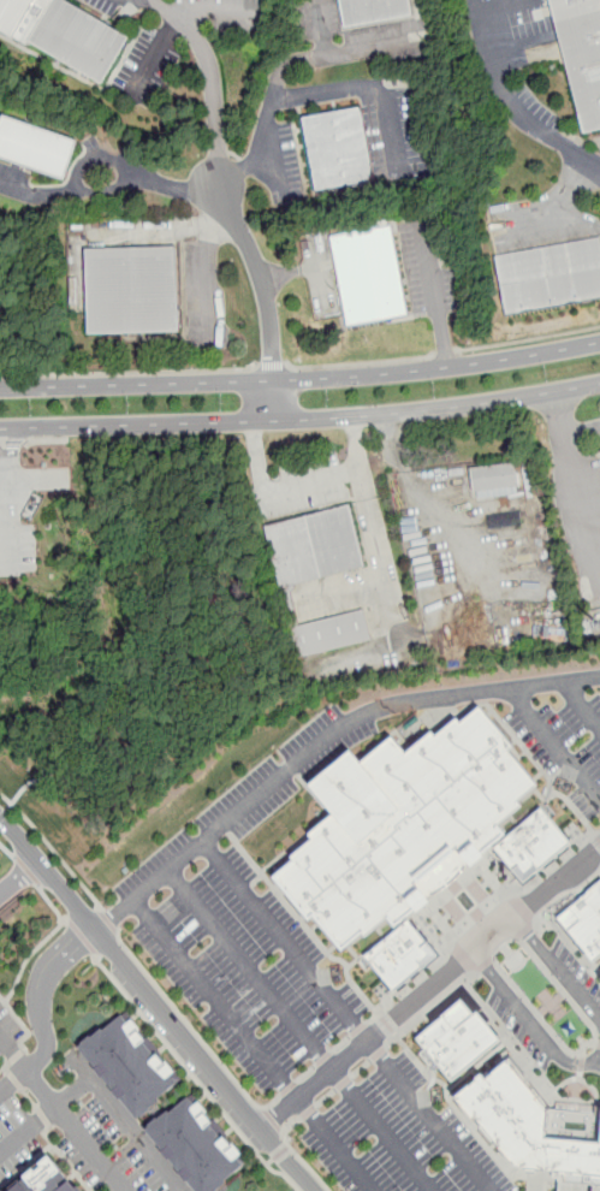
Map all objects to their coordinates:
road: (149, 1)
building: (374, 10)
road: (178, 19)
road: (317, 25)
building: (69, 34)
road: (363, 45)
building: (582, 53)
road: (213, 79)
road: (369, 85)
road: (269, 108)
road: (527, 120)
building: (40, 147)
building: (344, 149)
road: (244, 170)
road: (174, 184)
road: (564, 212)
road: (150, 232)
road: (204, 261)
building: (375, 275)
building: (549, 277)
building: (132, 291)
road: (433, 291)
road: (266, 302)
road: (527, 339)
road: (445, 352)
road: (361, 363)
road: (272, 366)
road: (130, 371)
road: (301, 378)
road: (301, 419)
road: (581, 428)
road: (43, 439)
road: (4, 442)
road: (16, 442)
road: (13, 444)
road: (362, 444)
road: (2, 460)
road: (2, 478)
building: (494, 480)
road: (278, 492)
road: (575, 494)
road: (427, 506)
road: (8, 511)
building: (314, 547)
road: (390, 565)
building: (332, 633)
road: (582, 703)
parking lot: (563, 743)
road: (556, 745)
road: (321, 746)
parking lot: (268, 783)
building: (404, 824)
building: (533, 845)
road: (7, 848)
road: (53, 848)
road: (26, 870)
road: (17, 872)
road: (557, 881)
fountain: (470, 902)
road: (529, 914)
road: (107, 920)
building: (584, 922)
road: (524, 928)
road: (495, 935)
road: (81, 937)
road: (515, 937)
road: (44, 940)
road: (570, 941)
building: (400, 954)
road: (494, 956)
road: (483, 964)
road: (470, 965)
road: (557, 968)
park: (543, 995)
road: (155, 1005)
road: (42, 1013)
road: (349, 1014)
road: (530, 1019)
road: (23, 1025)
road: (192, 1029)
road: (301, 1030)
parking lot: (307, 1036)
building: (458, 1038)
road: (367, 1039)
road: (256, 1043)
road: (594, 1043)
road: (599, 1044)
road: (521, 1049)
road: (583, 1051)
road: (575, 1053)
road: (14, 1054)
road: (599, 1056)
road: (599, 1057)
building: (129, 1063)
road: (582, 1063)
road: (192, 1074)
road: (580, 1076)
road: (582, 1079)
road: (43, 1115)
road: (271, 1119)
road: (125, 1124)
building: (527, 1126)
road: (75, 1132)
building: (196, 1146)
road: (297, 1153)
building: (44, 1177)
building: (578, 1186)
parking garage: (578, 1186)

